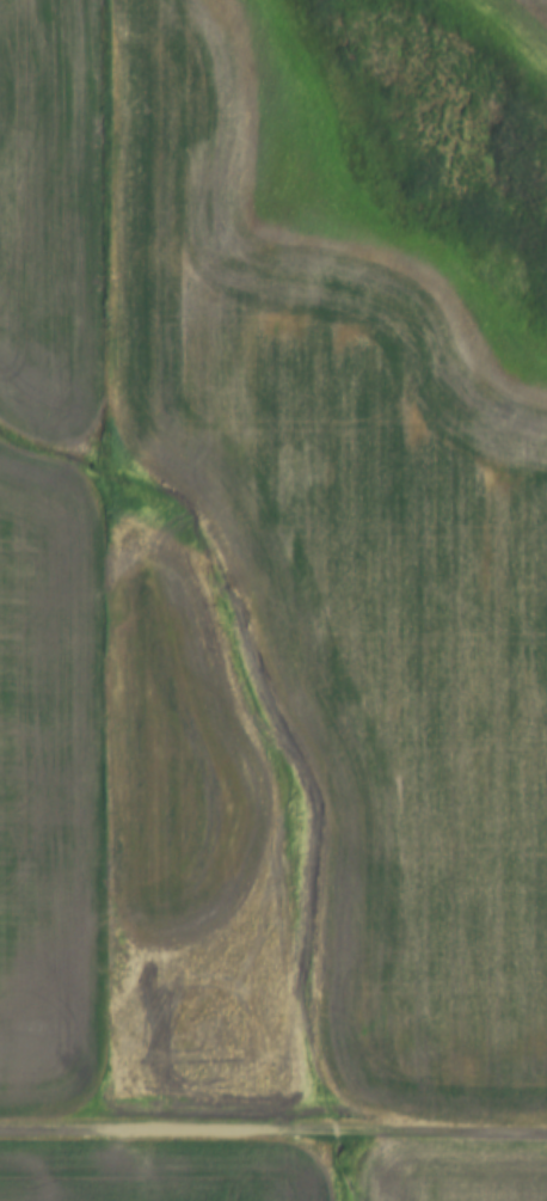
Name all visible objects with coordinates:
road: (273, 1138)

